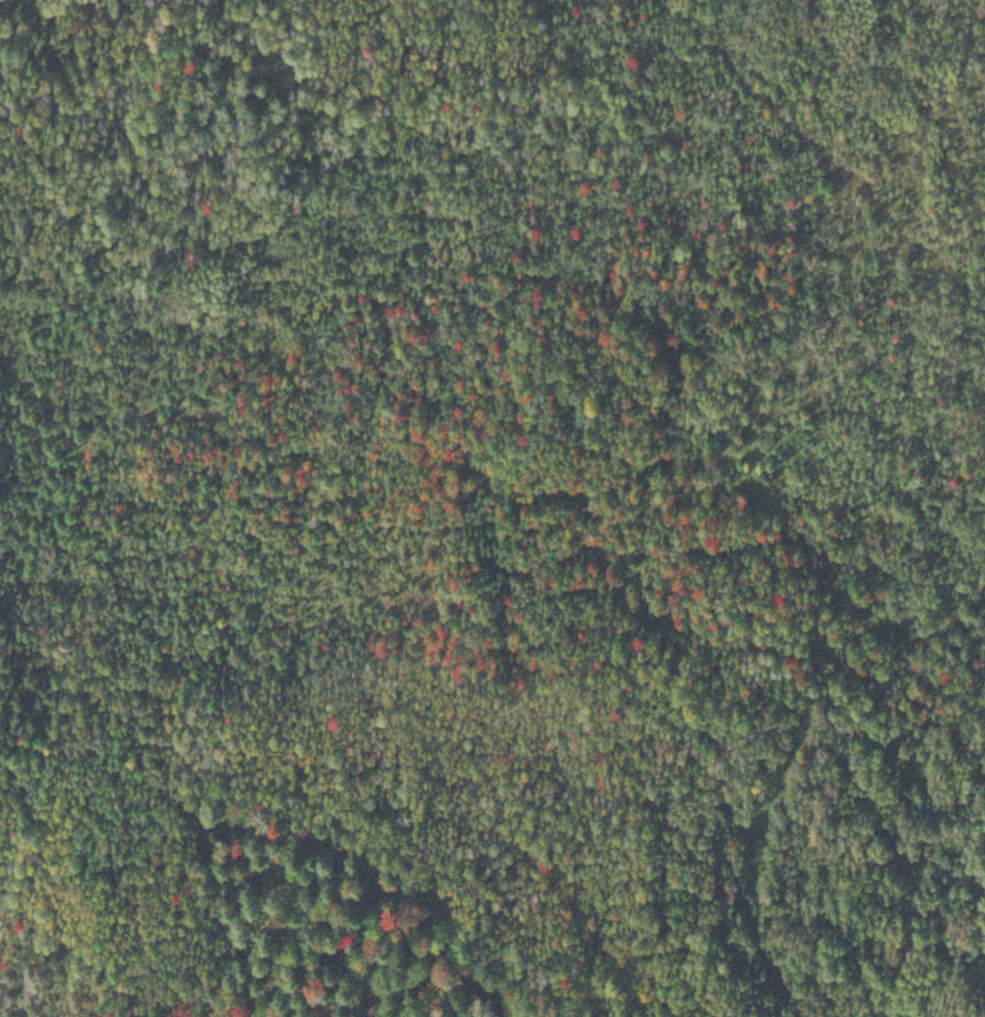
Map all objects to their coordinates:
road: (766, 286)

